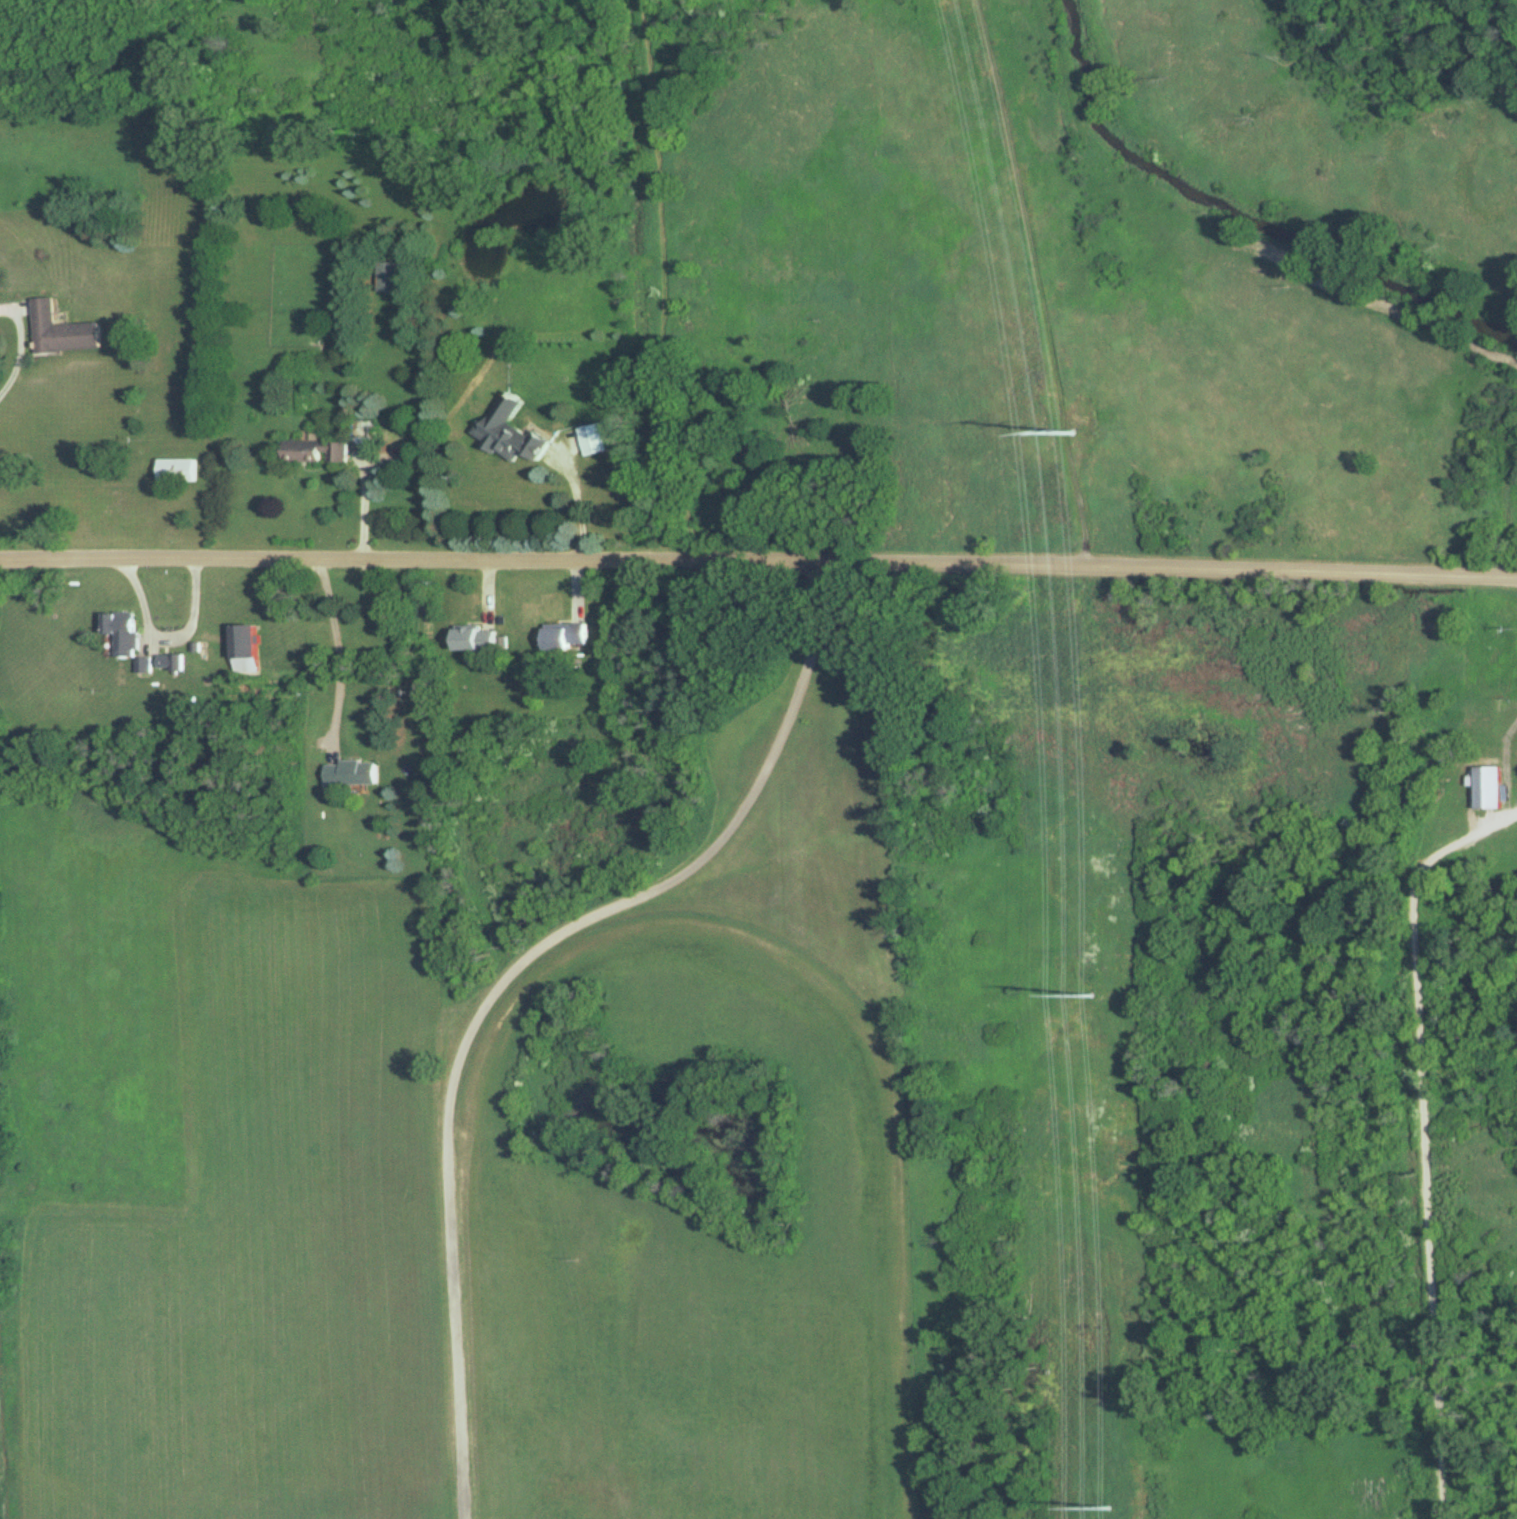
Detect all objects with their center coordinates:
building: (389, 278)
building: (65, 332)
road: (18, 362)
power tower: (1073, 432)
building: (598, 438)
building: (511, 443)
building: (319, 452)
building: (180, 471)
road: (580, 502)
road: (759, 556)
road: (170, 634)
building: (563, 636)
building: (129, 638)
building: (473, 639)
road: (338, 643)
building: (247, 649)
building: (172, 663)
building: (354, 774)
building: (1485, 787)
road: (505, 974)
power tower: (1087, 996)
road: (1419, 1143)
power tower: (1107, 1507)

